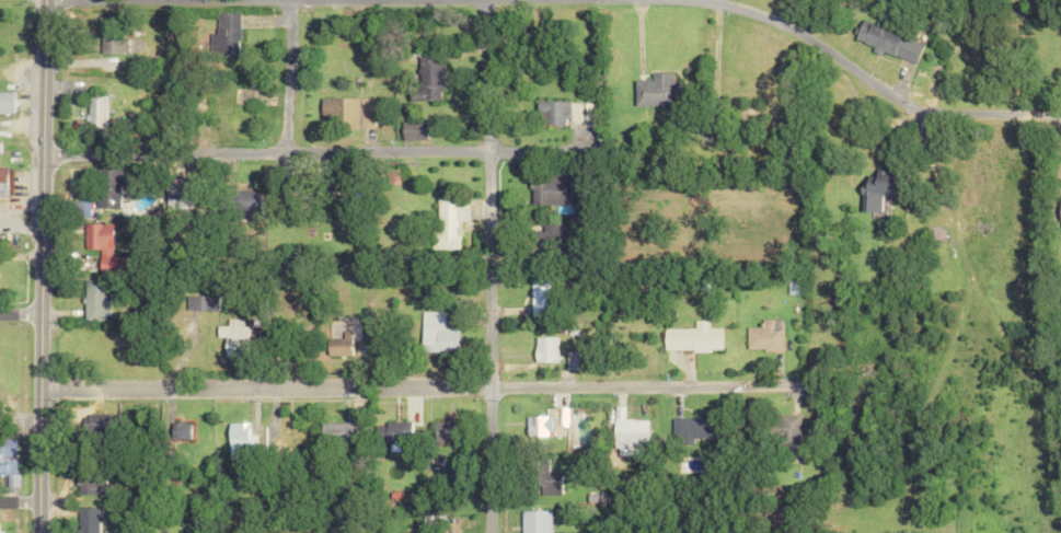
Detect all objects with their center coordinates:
road: (701, 0)
building: (220, 35)
building: (109, 43)
building: (886, 43)
road: (278, 76)
building: (429, 79)
road: (869, 83)
building: (651, 91)
building: (3, 103)
building: (348, 111)
building: (584, 112)
building: (93, 113)
building: (549, 113)
building: (411, 130)
road: (310, 150)
building: (4, 182)
building: (106, 188)
building: (543, 190)
building: (875, 190)
building: (173, 194)
building: (246, 202)
building: (1060, 216)
building: (446, 221)
building: (934, 233)
building: (94, 237)
building: (541, 237)
building: (112, 265)
road: (35, 266)
road: (480, 266)
building: (535, 292)
building: (93, 300)
building: (199, 303)
road: (18, 311)
building: (434, 333)
building: (232, 335)
building: (762, 335)
building: (690, 337)
building: (339, 345)
building: (541, 348)
building: (569, 360)
road: (415, 385)
building: (542, 422)
building: (690, 428)
building: (178, 430)
building: (395, 430)
building: (442, 431)
building: (786, 431)
building: (625, 434)
building: (287, 437)
building: (238, 439)
building: (424, 449)
building: (7, 461)
building: (543, 480)
building: (88, 485)
road: (16, 499)
building: (87, 520)
building: (532, 521)
building: (431, 523)

